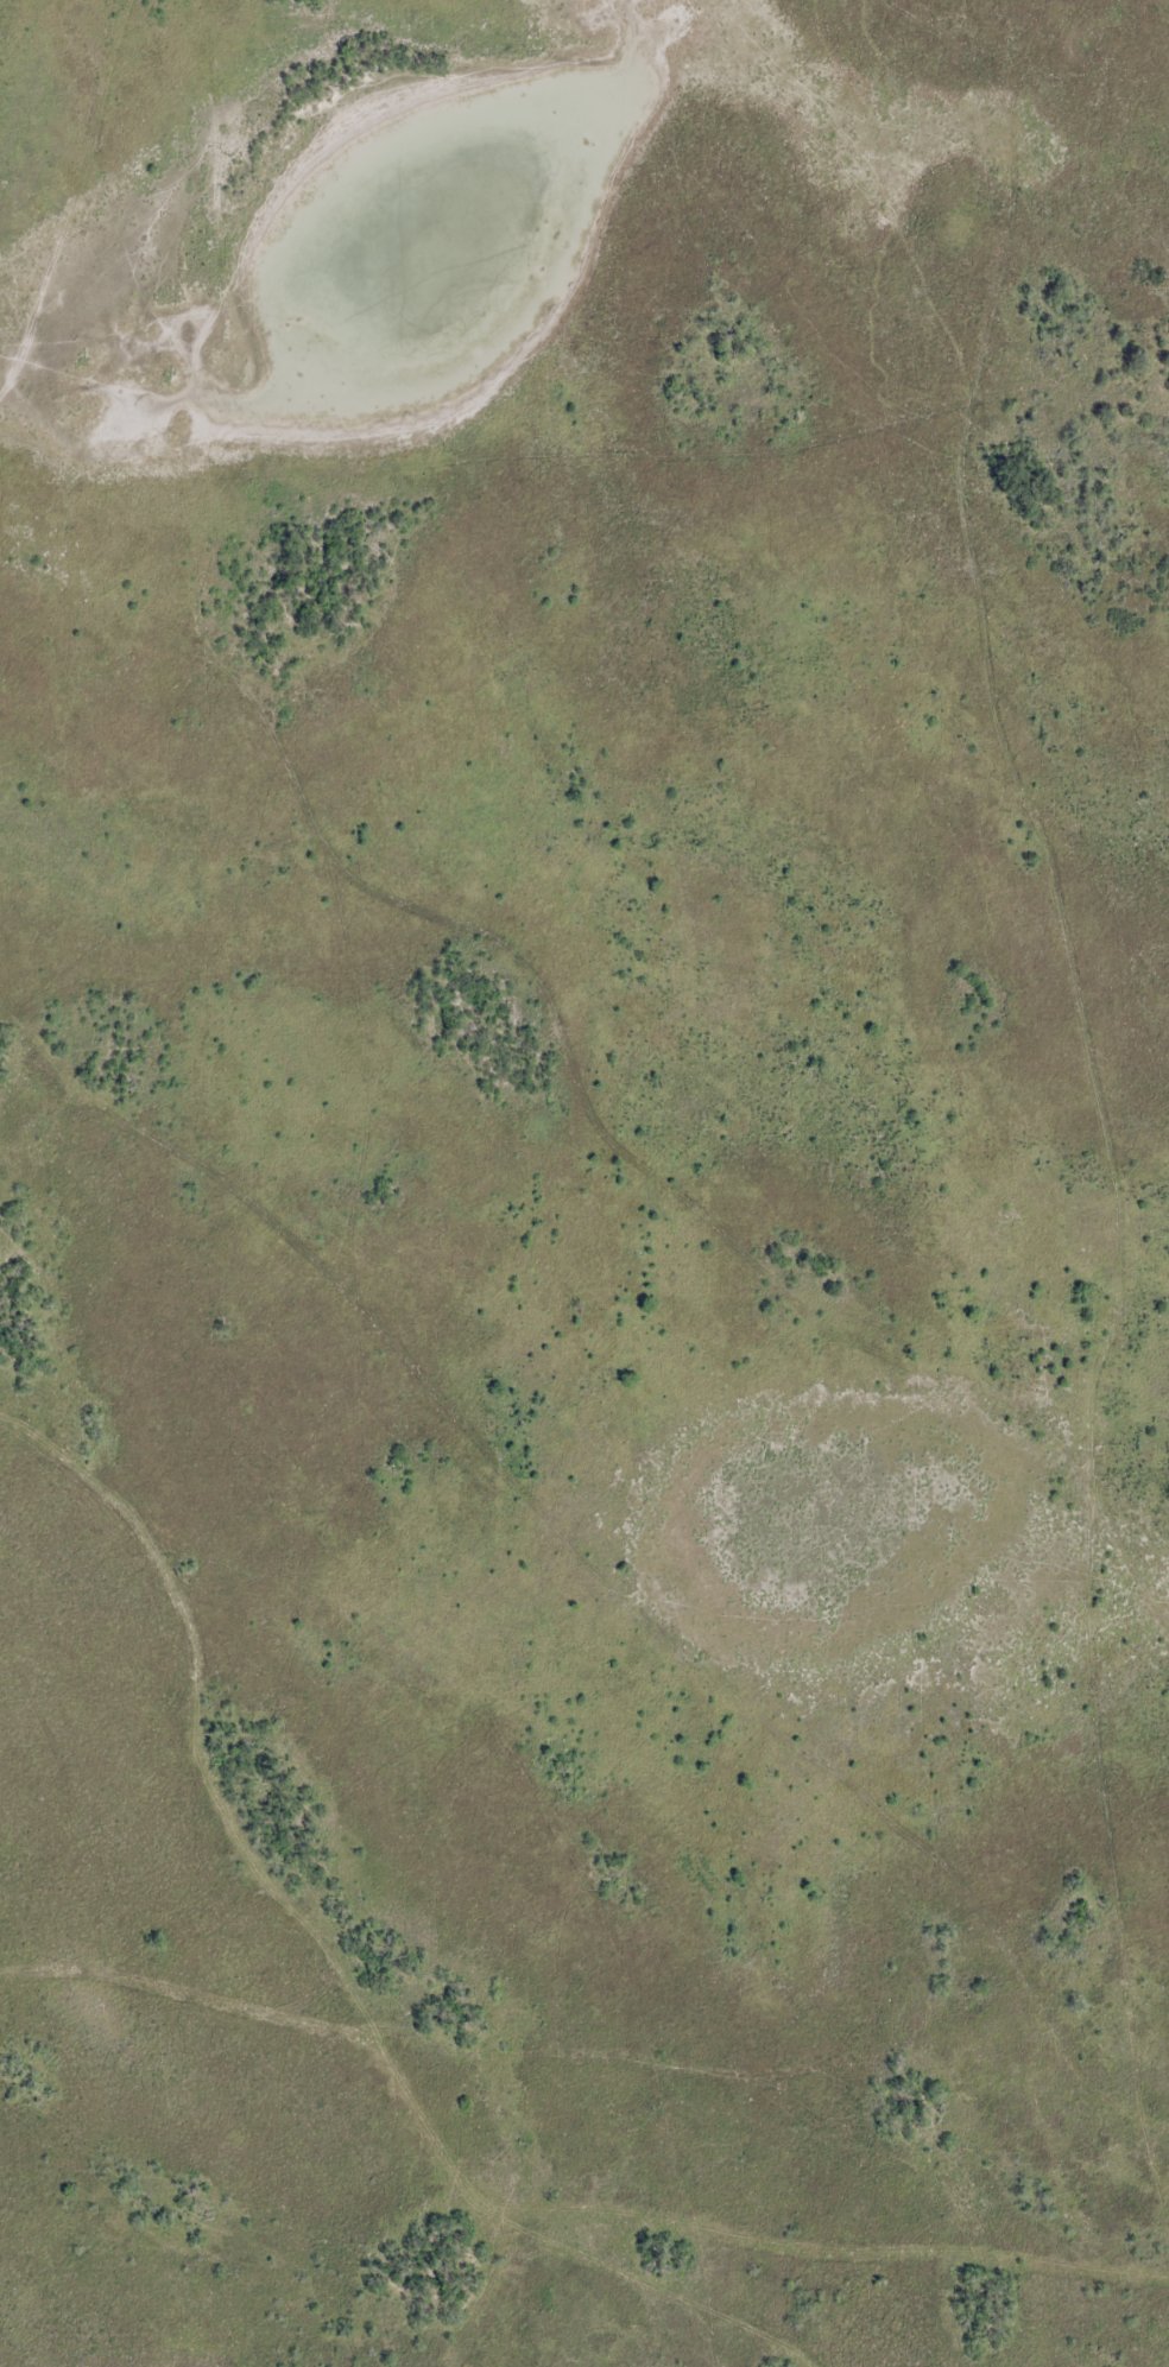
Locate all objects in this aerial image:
road: (170, 135)

